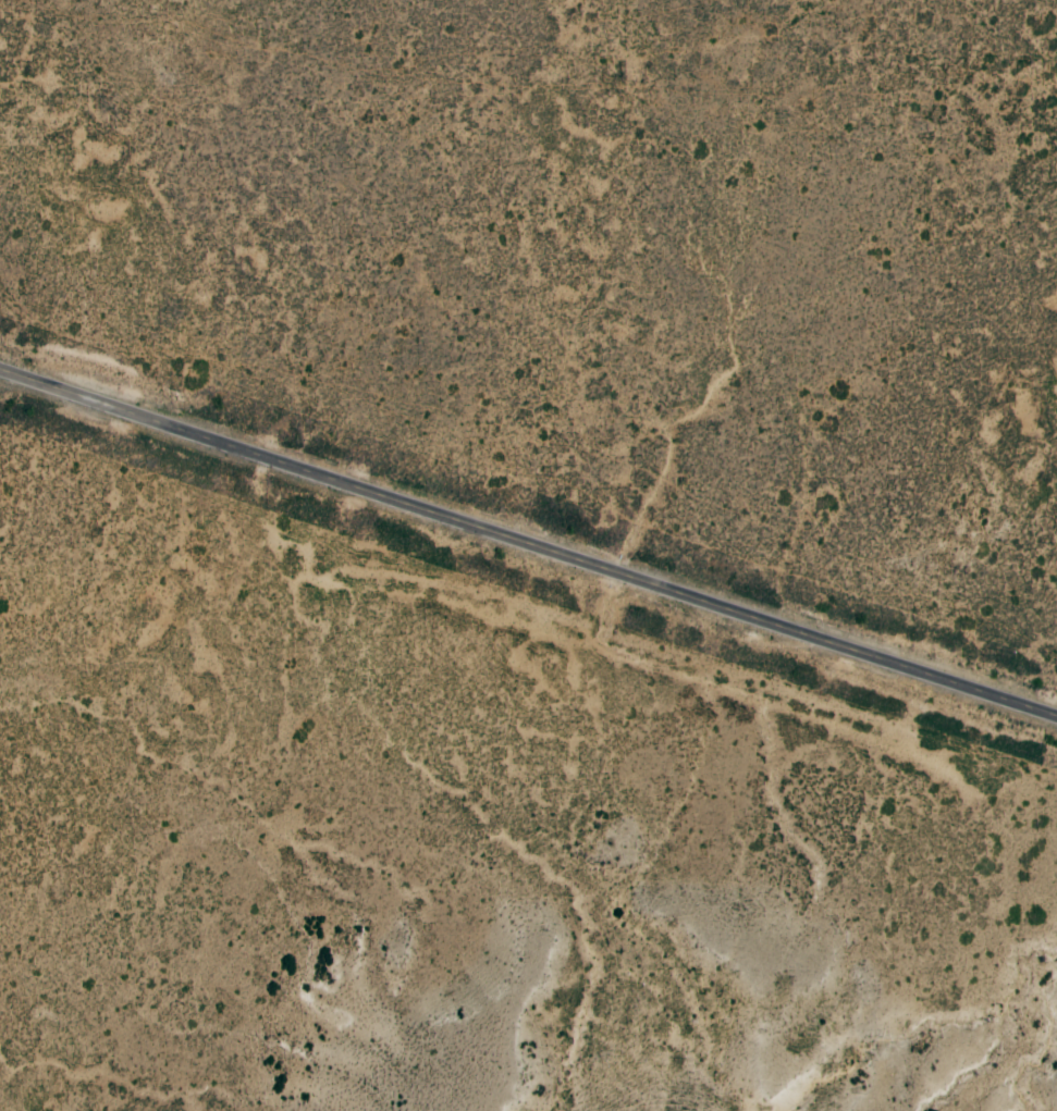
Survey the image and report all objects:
road: (528, 540)

